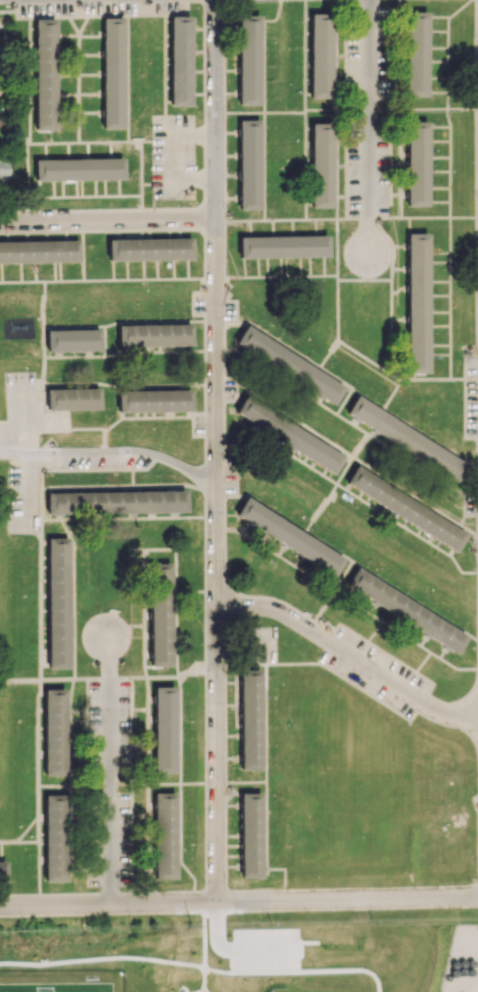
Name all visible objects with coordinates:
building: (416, 53)
building: (320, 55)
building: (247, 59)
building: (179, 60)
building: (112, 72)
building: (44, 74)
road: (367, 126)
road: (173, 156)
building: (416, 163)
building: (247, 164)
building: (320, 165)
building: (3, 167)
building: (78, 169)
road: (107, 219)
building: (282, 246)
building: (148, 249)
building: (38, 251)
building: (416, 302)
building: (154, 335)
building: (72, 340)
building: (288, 364)
building: (72, 399)
building: (154, 400)
building: (288, 434)
building: (405, 438)
road: (215, 450)
road: (111, 452)
building: (115, 502)
building: (405, 508)
building: (289, 536)
building: (57, 602)
building: (405, 610)
building: (160, 614)
road: (243, 645)
road: (349, 655)
building: (249, 719)
building: (163, 729)
building: (54, 731)
road: (108, 771)
building: (164, 835)
building: (250, 835)
building: (54, 837)
building: (2, 871)
road: (238, 900)
park: (229, 950)
park: (265, 971)

